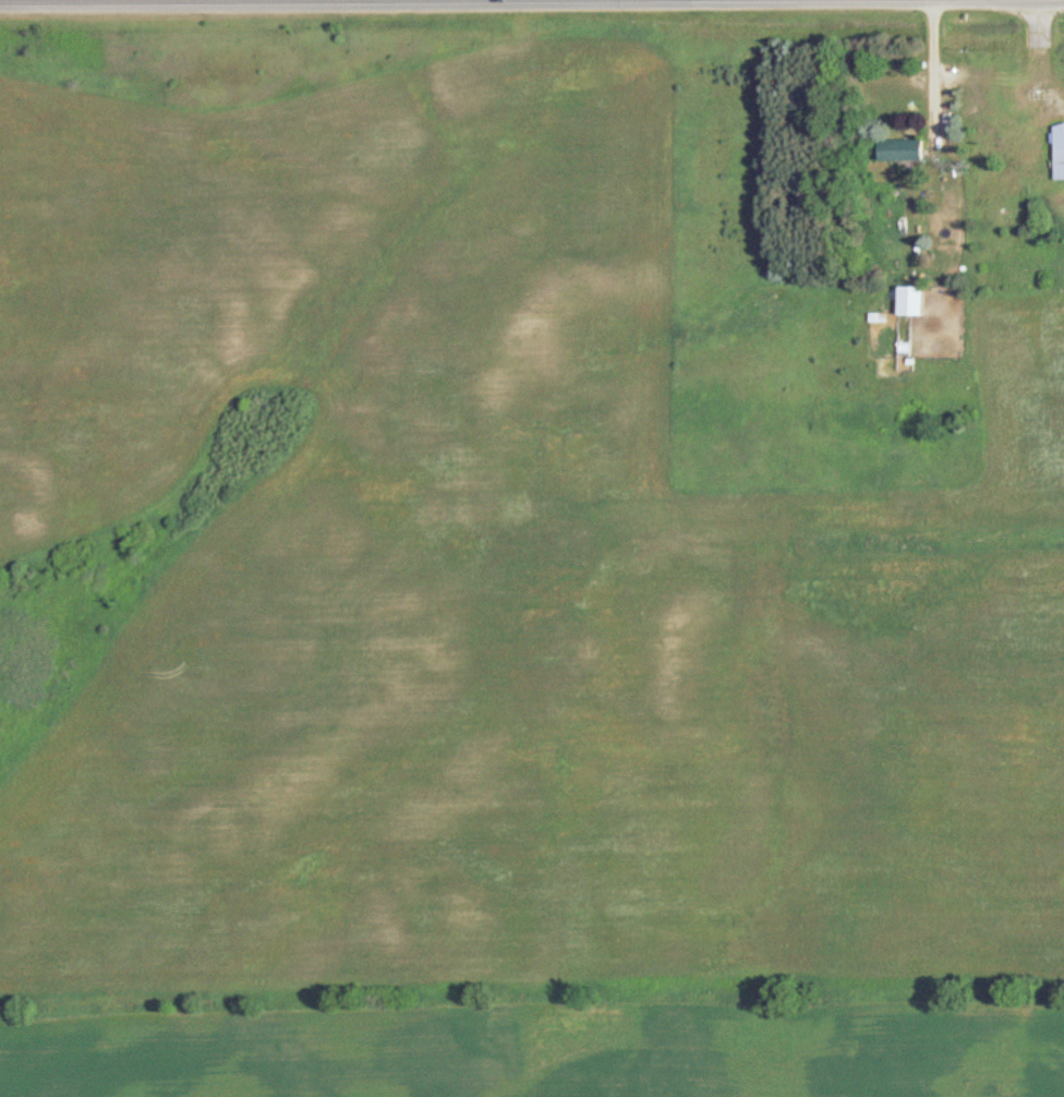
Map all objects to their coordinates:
building: (905, 149)
building: (1061, 150)
building: (914, 300)
crop: (493, 571)
crop: (542, 1047)

